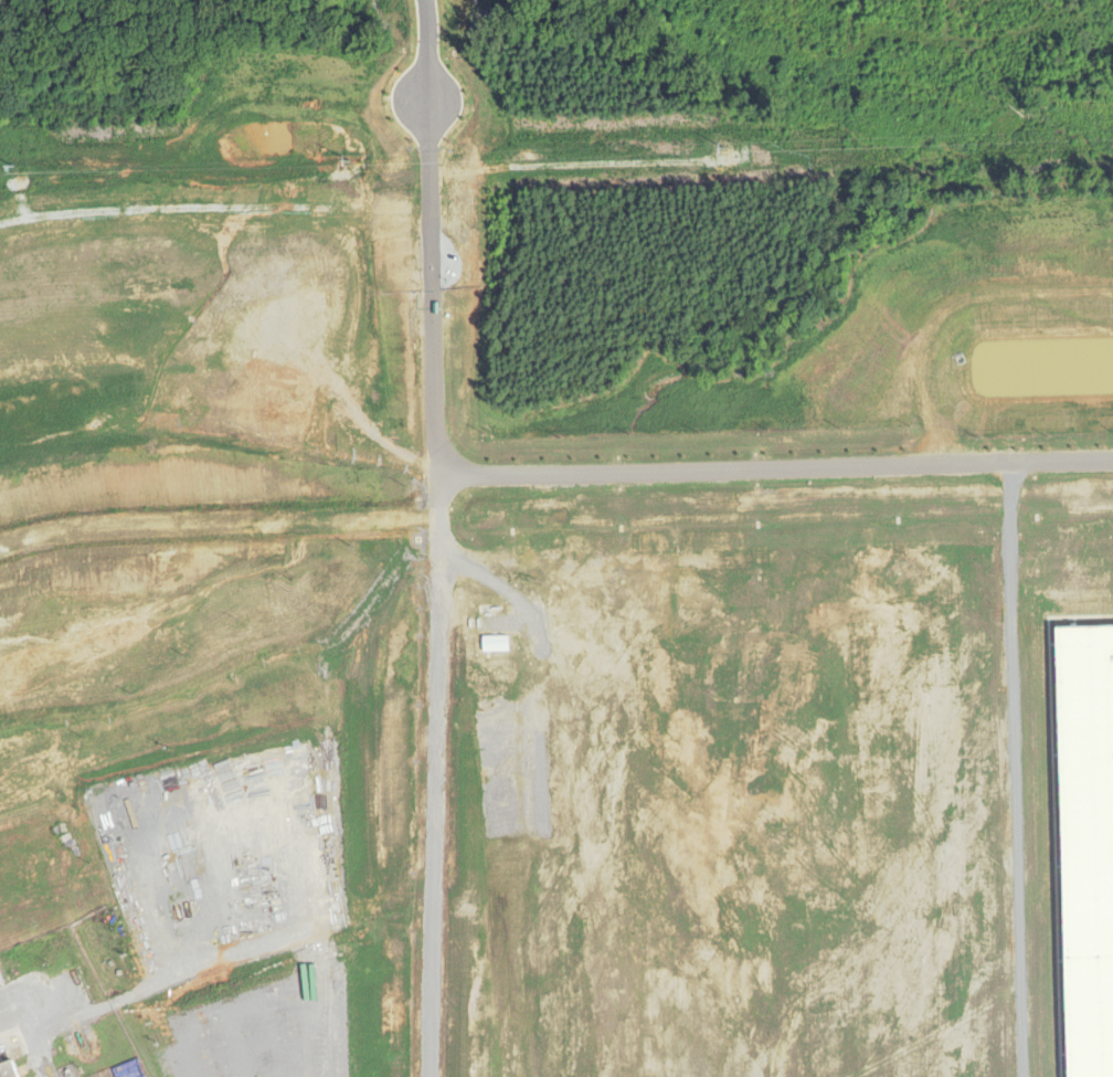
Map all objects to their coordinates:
road: (439, 80)
road: (438, 464)
road: (776, 468)
road: (156, 783)
road: (253, 819)
road: (225, 895)
road: (192, 970)
road: (267, 1000)
road: (427, 1003)
road: (274, 1039)
road: (233, 1045)
road: (26, 1046)
building: (8, 1069)

